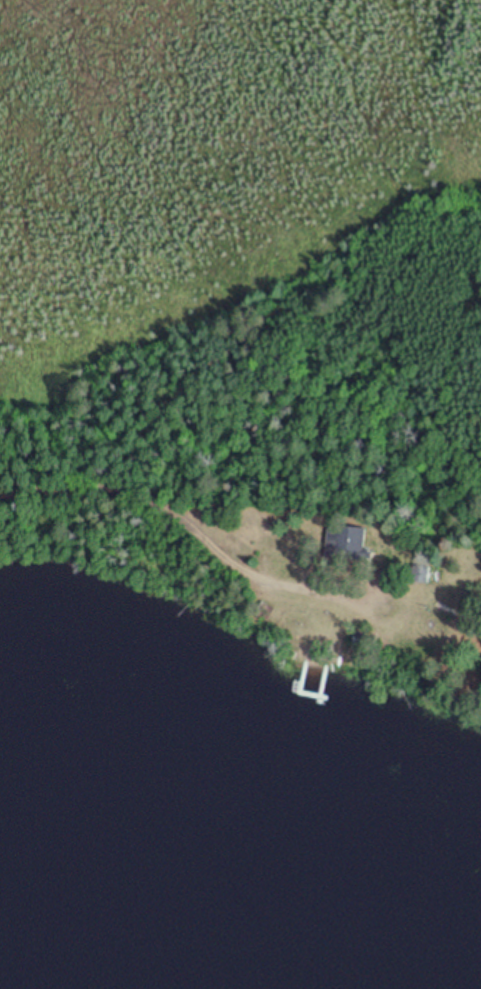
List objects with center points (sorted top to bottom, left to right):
building: (346, 539)

